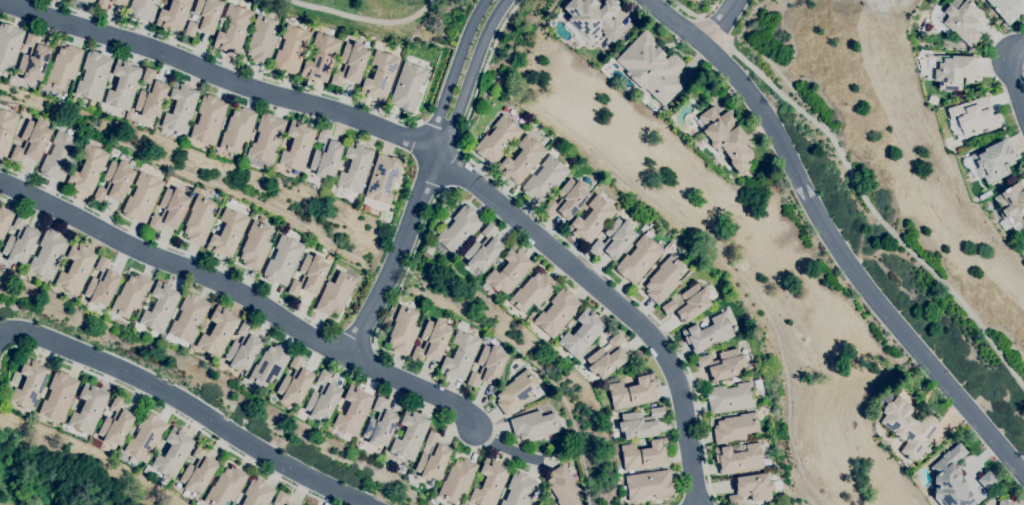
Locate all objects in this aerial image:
building: (80, 0)
building: (89, 1)
building: (102, 4)
building: (1006, 8)
building: (143, 9)
park: (389, 13)
building: (174, 15)
road: (697, 15)
building: (205, 17)
road: (369, 18)
building: (594, 19)
building: (962, 20)
road: (720, 23)
building: (233, 29)
road: (716, 29)
building: (261, 40)
building: (9, 46)
building: (291, 50)
building: (321, 58)
building: (33, 59)
building: (351, 64)
road: (235, 65)
building: (64, 67)
road: (456, 67)
building: (651, 67)
road: (1023, 68)
road: (472, 69)
building: (953, 71)
building: (380, 75)
road: (1007, 75)
building: (93, 76)
building: (123, 85)
building: (408, 86)
building: (151, 95)
building: (180, 108)
building: (973, 117)
building: (209, 120)
building: (6, 129)
building: (237, 129)
road: (438, 136)
building: (727, 137)
building: (267, 138)
building: (498, 140)
building: (32, 141)
building: (298, 145)
building: (326, 155)
road: (436, 155)
building: (60, 156)
building: (521, 160)
building: (993, 161)
road: (452, 165)
building: (354, 169)
building: (88, 170)
building: (383, 179)
building: (545, 179)
building: (115, 182)
building: (142, 197)
building: (567, 199)
building: (1011, 206)
building: (170, 209)
road: (875, 210)
building: (5, 220)
building: (199, 220)
building: (592, 220)
building: (459, 229)
building: (228, 233)
road: (833, 235)
building: (614, 239)
building: (20, 241)
road: (573, 245)
building: (255, 246)
road: (399, 246)
road: (168, 247)
building: (483, 250)
building: (49, 254)
building: (638, 259)
building: (283, 260)
road: (409, 264)
building: (76, 269)
building: (507, 273)
building: (309, 275)
building: (663, 280)
building: (101, 287)
road: (245, 290)
building: (533, 292)
building: (335, 294)
building: (131, 295)
building: (688, 303)
building: (160, 307)
building: (557, 313)
building: (189, 318)
building: (403, 331)
building: (218, 332)
building: (582, 334)
building: (708, 334)
road: (354, 335)
building: (486, 340)
building: (432, 341)
building: (244, 348)
building: (461, 353)
building: (608, 357)
building: (723, 364)
building: (269, 365)
building: (488, 366)
building: (295, 382)
building: (30, 384)
building: (516, 392)
building: (632, 392)
building: (59, 396)
building: (323, 397)
building: (730, 398)
road: (191, 402)
road: (167, 405)
building: (88, 409)
building: (353, 411)
building: (116, 423)
building: (640, 423)
building: (380, 424)
building: (534, 425)
building: (908, 427)
building: (735, 428)
building: (409, 436)
building: (146, 437)
road: (508, 445)
building: (173, 453)
building: (644, 455)
building: (432, 458)
building: (739, 458)
building: (198, 471)
building: (950, 479)
building: (457, 480)
building: (988, 480)
park: (43, 483)
building: (489, 483)
building: (648, 485)
building: (226, 486)
building: (563, 486)
building: (751, 488)
building: (519, 489)
building: (258, 493)
building: (280, 499)
building: (1006, 502)

